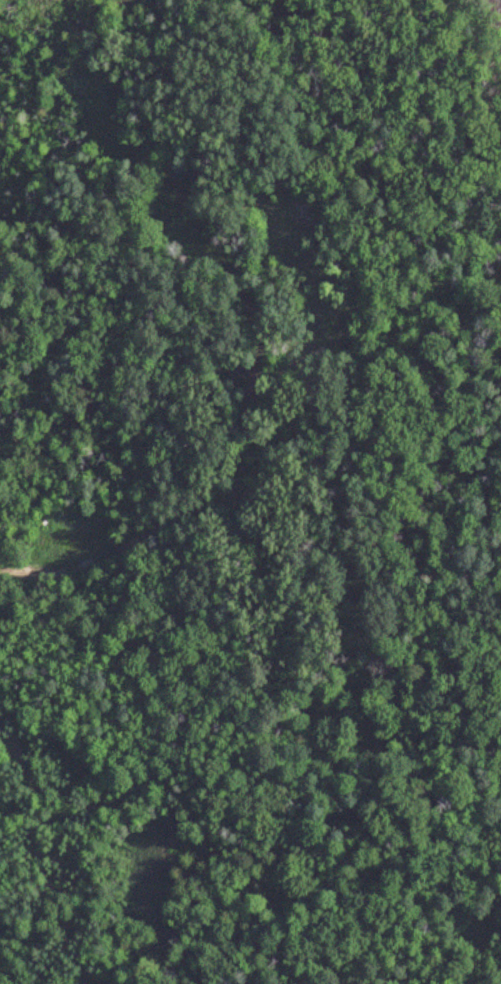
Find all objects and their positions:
road: (119, 625)

